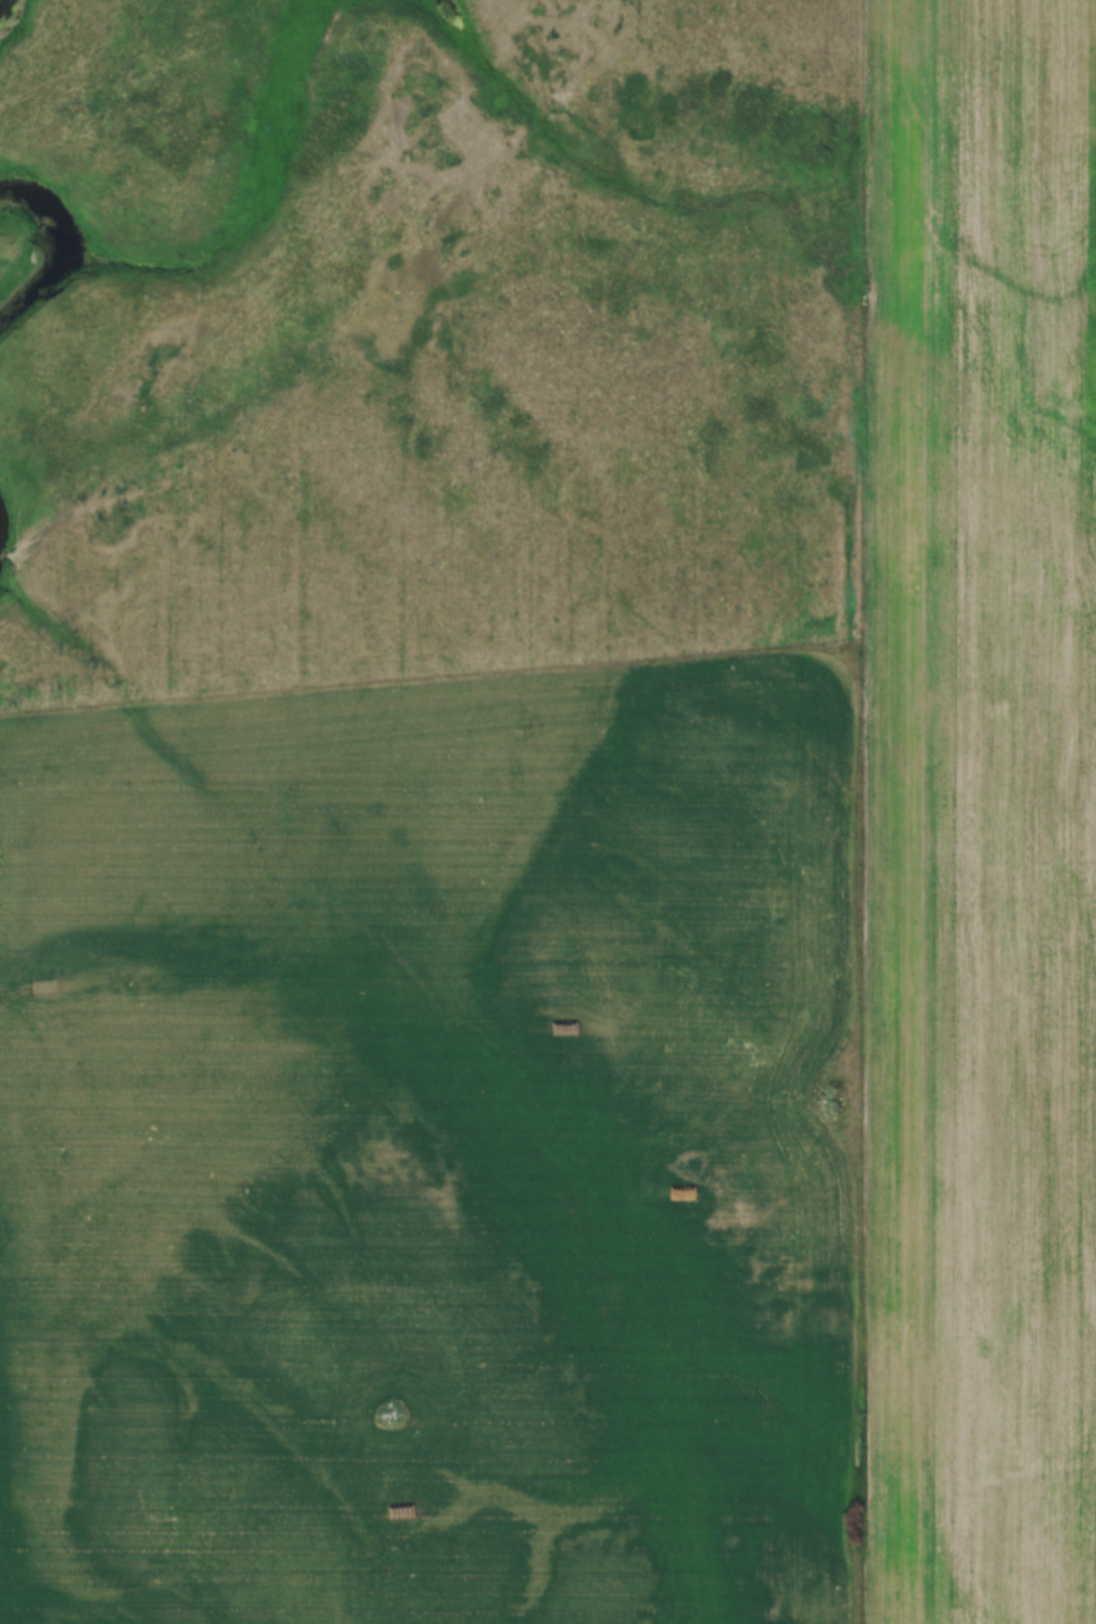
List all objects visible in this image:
road: (430, 689)
road: (859, 812)

